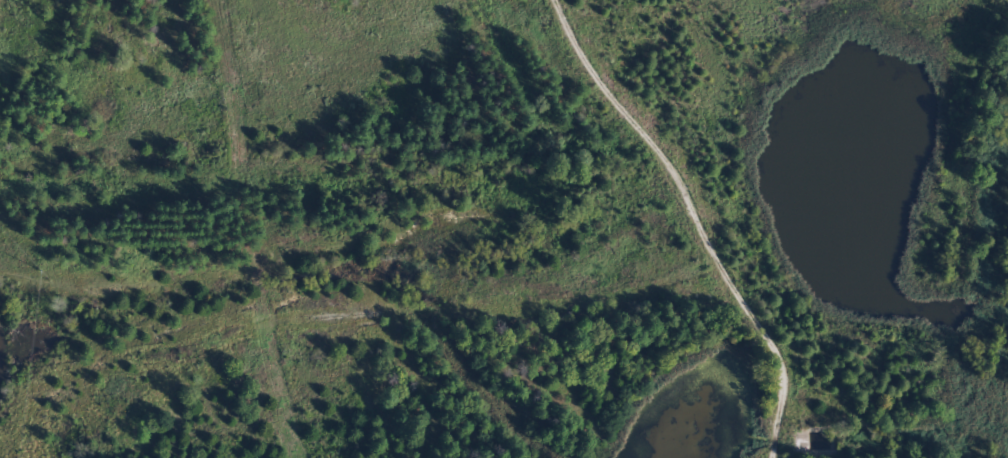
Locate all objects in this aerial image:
road: (691, 219)

